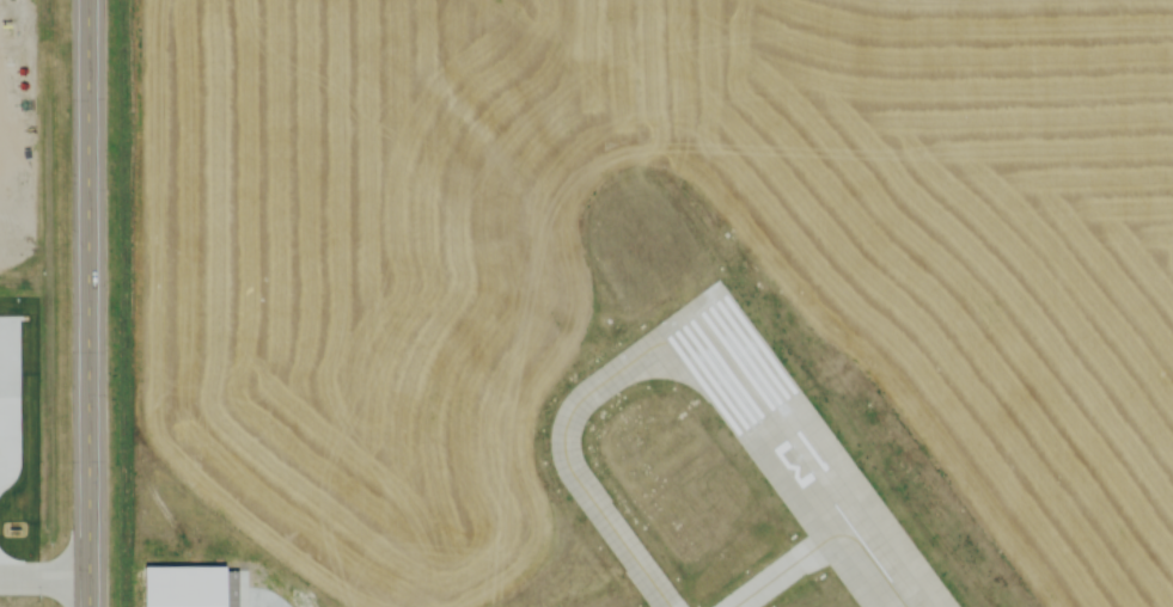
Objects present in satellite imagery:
road: (91, 302)
airport: (653, 303)
airport runway: (794, 459)
airport taxiway: (573, 474)
road: (47, 565)
building: (158, 565)
airport apron: (775, 578)
airport taxiway: (775, 581)
road: (245, 588)

